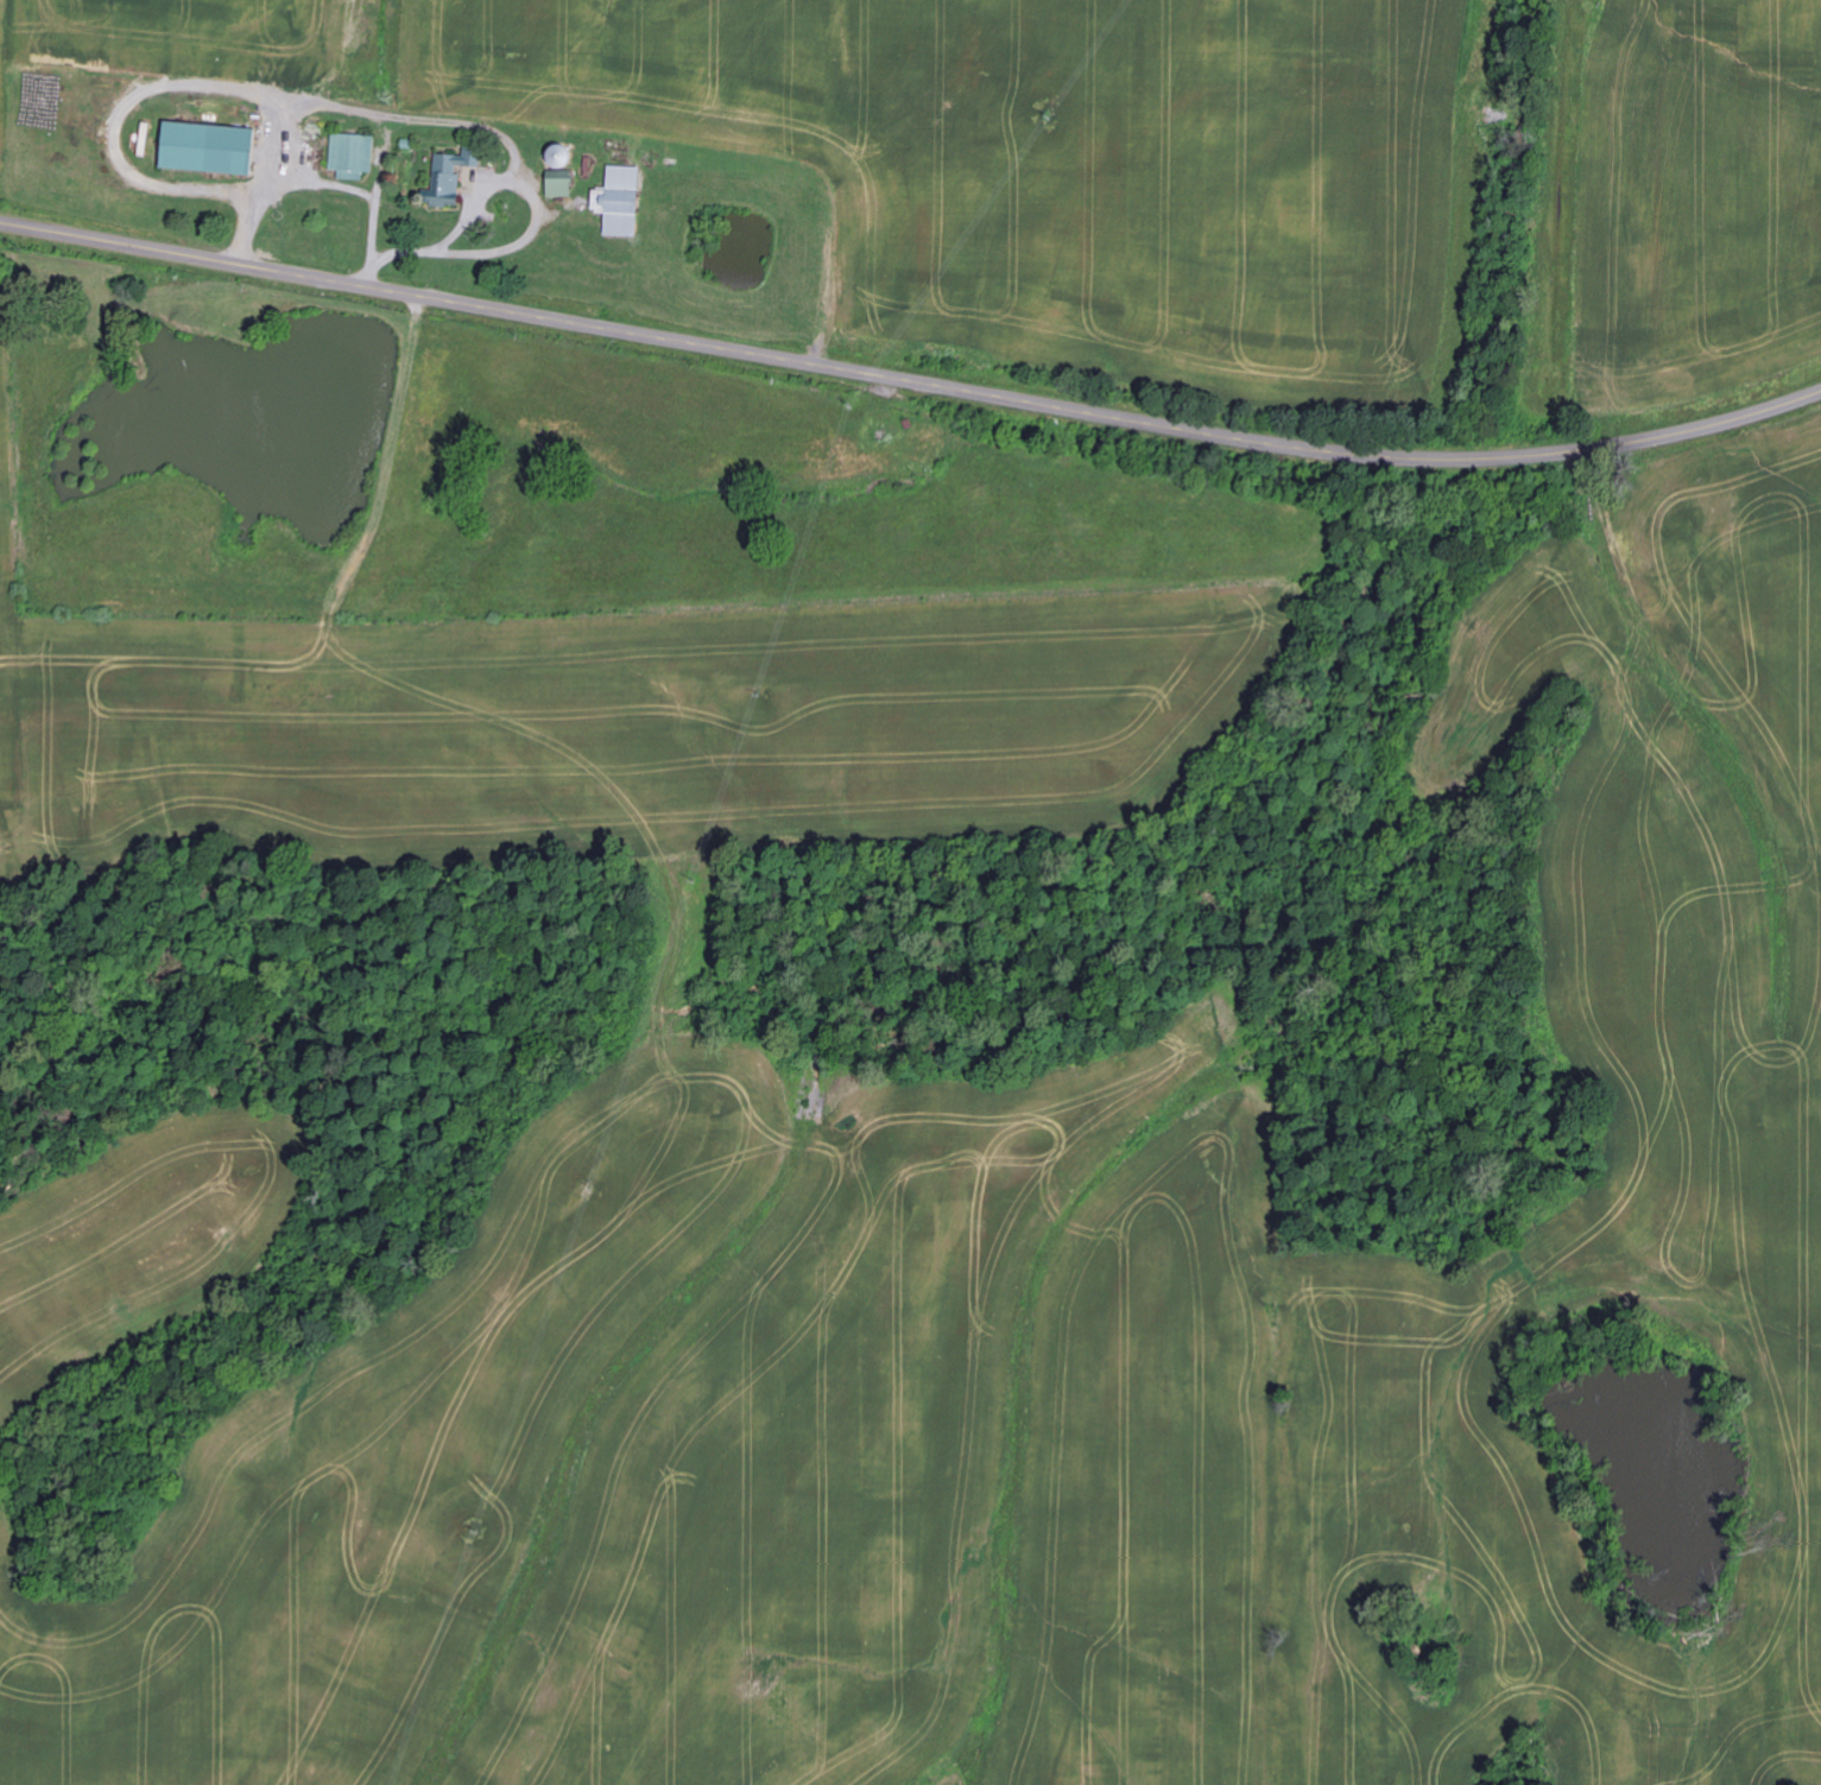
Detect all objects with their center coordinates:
crop: (0, 23)
building: (208, 148)
building: (352, 156)
building: (451, 176)
building: (561, 184)
building: (622, 202)
road: (910, 380)

